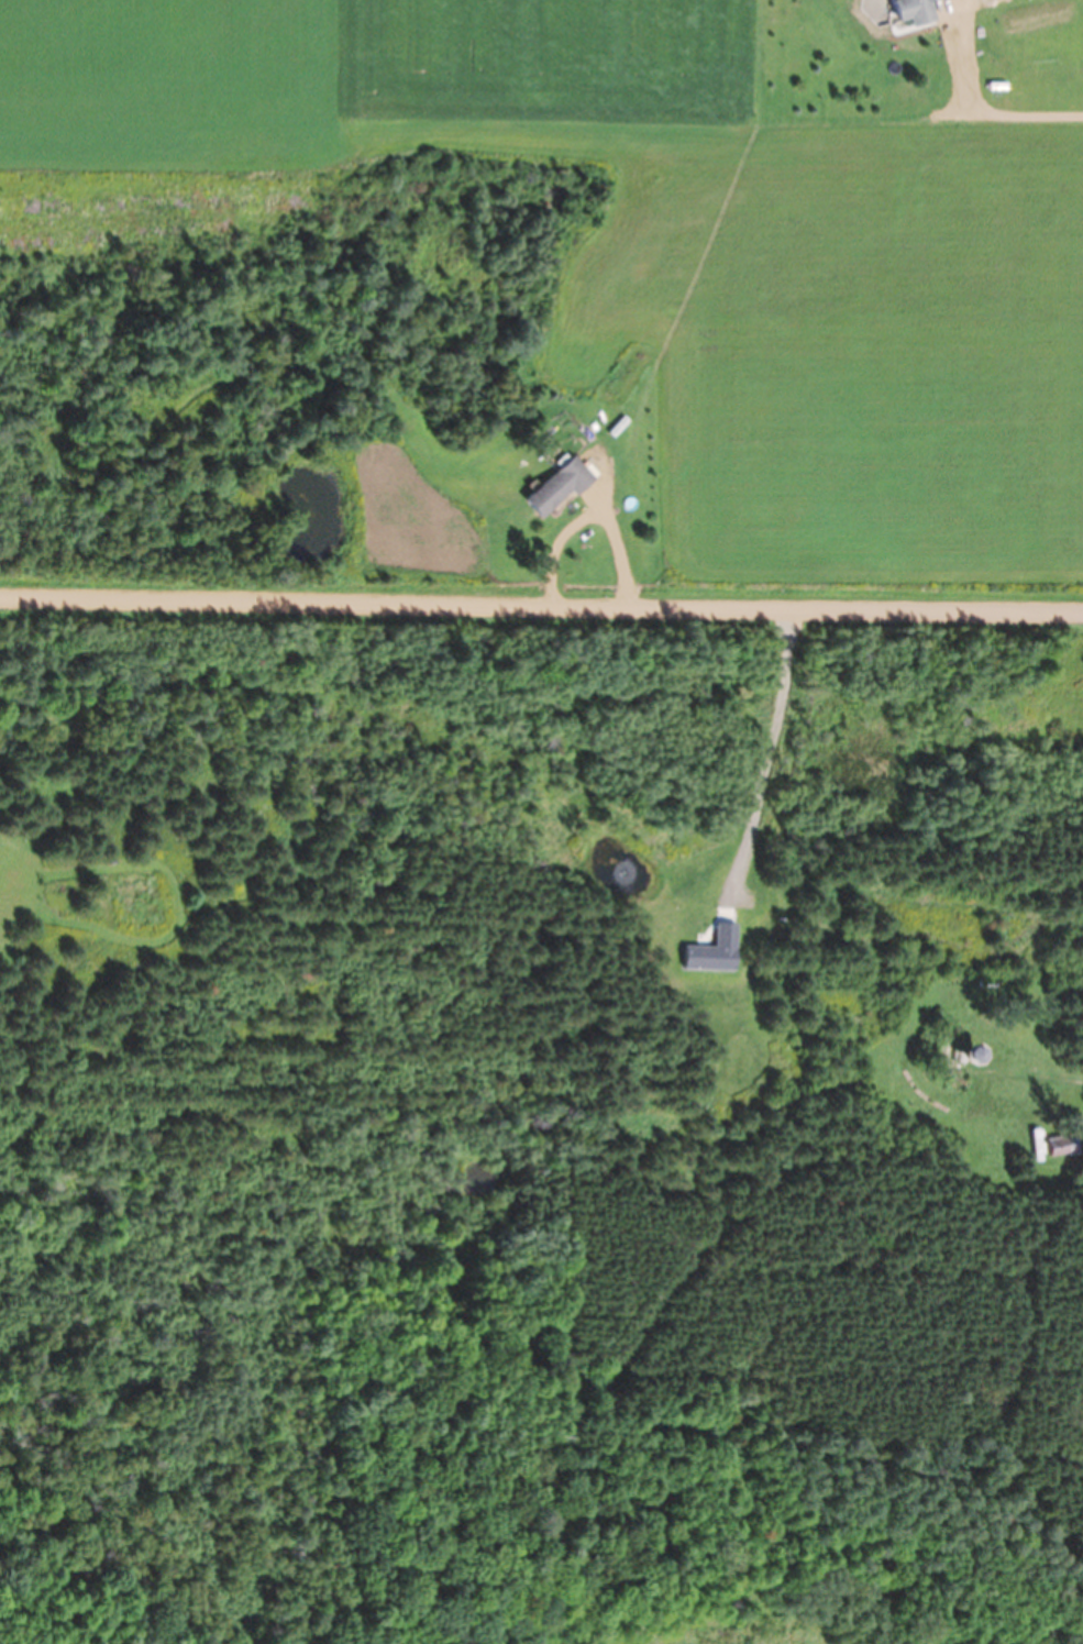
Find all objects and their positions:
building: (915, 10)
building: (560, 485)
road: (541, 602)
building: (980, 1055)
building: (1064, 1144)

